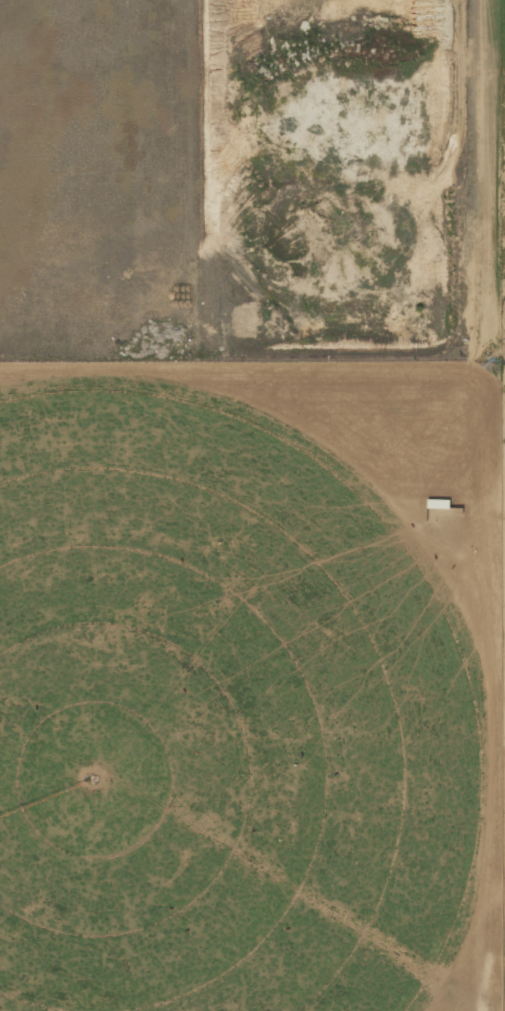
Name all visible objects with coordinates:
crop: (221, 716)

